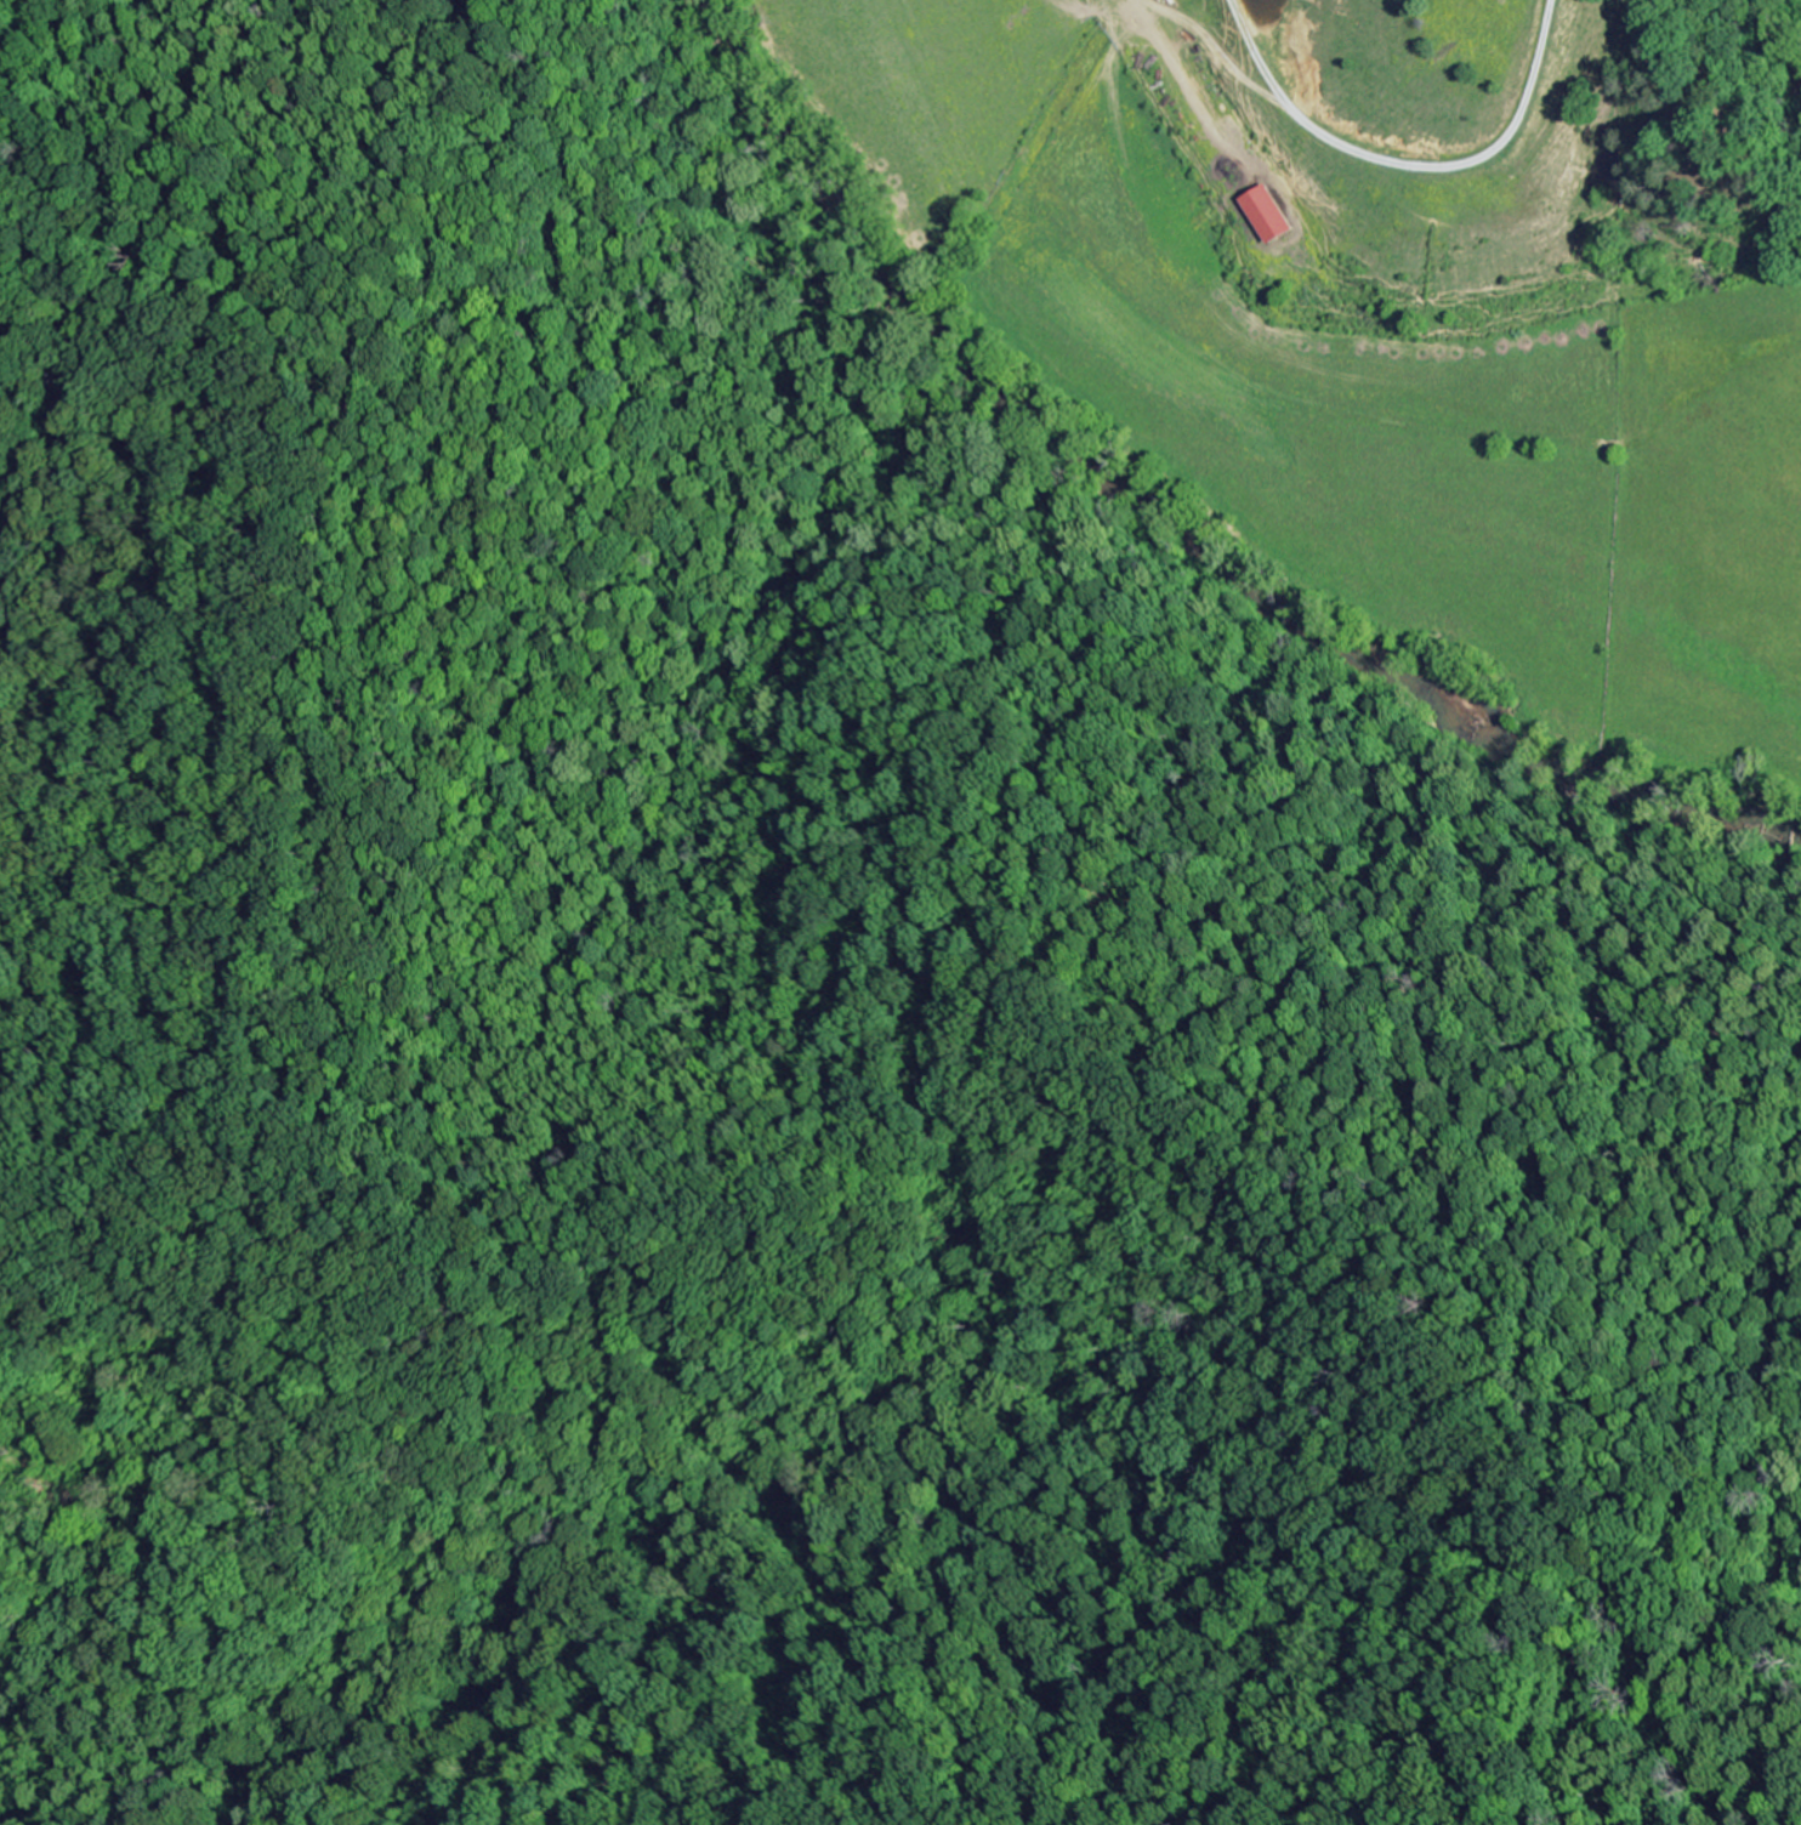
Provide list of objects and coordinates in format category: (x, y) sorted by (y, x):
river: (1782, 32)
building: (1272, 215)
river: (1170, 522)

